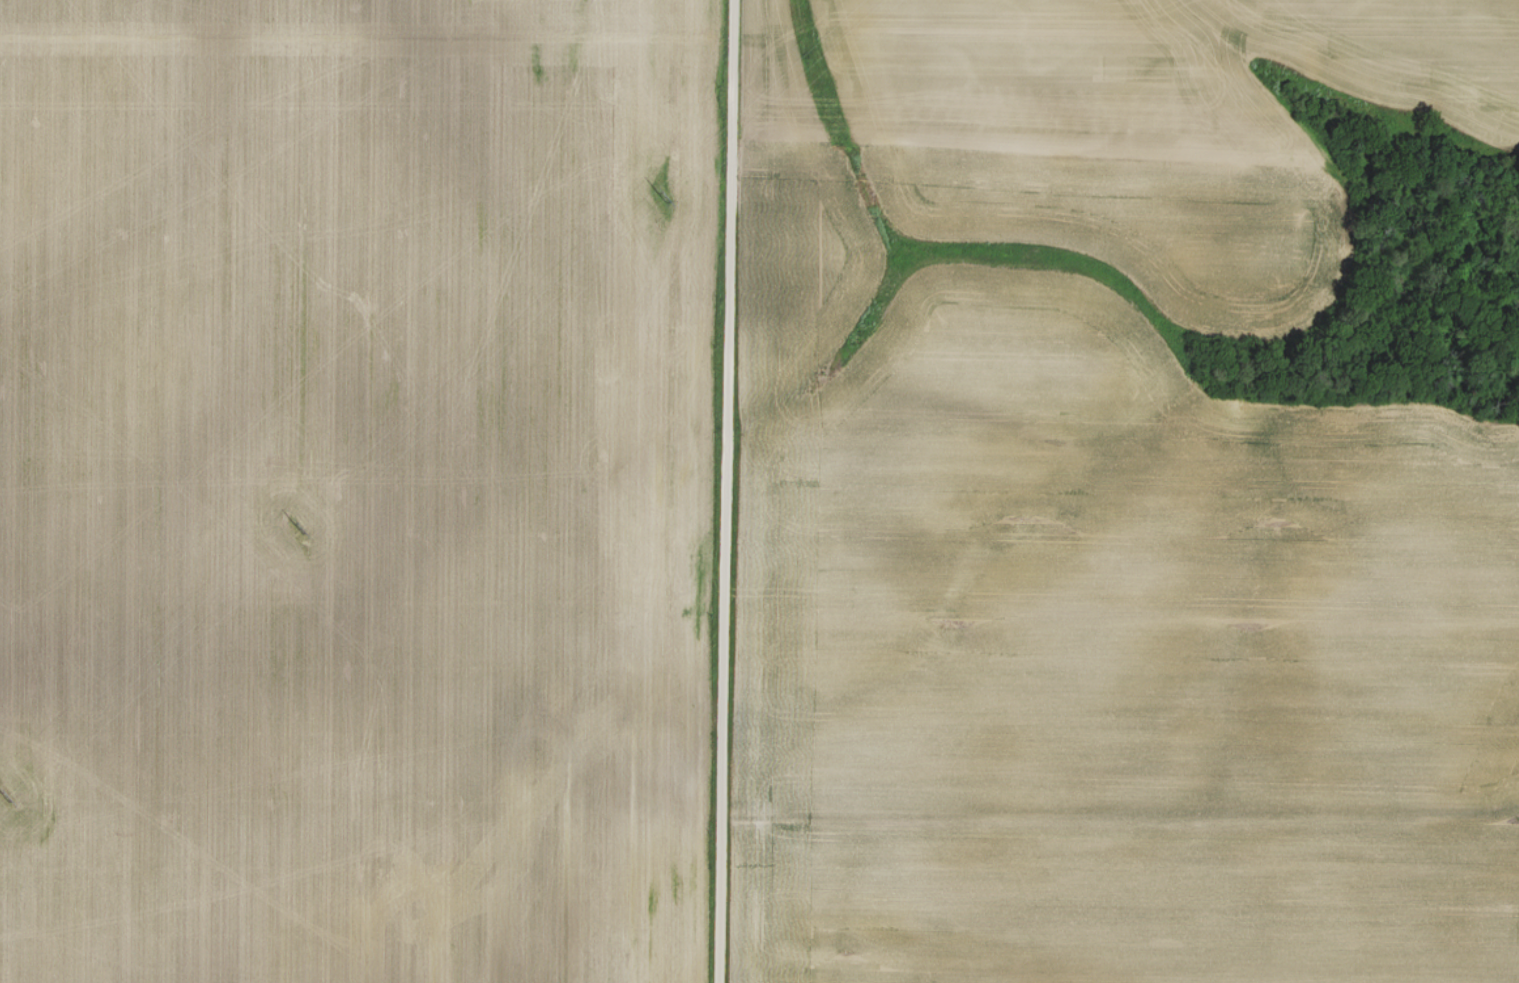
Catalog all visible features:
power tower: (663, 198)
road: (725, 491)
power tower: (300, 530)
power tower: (3, 798)

